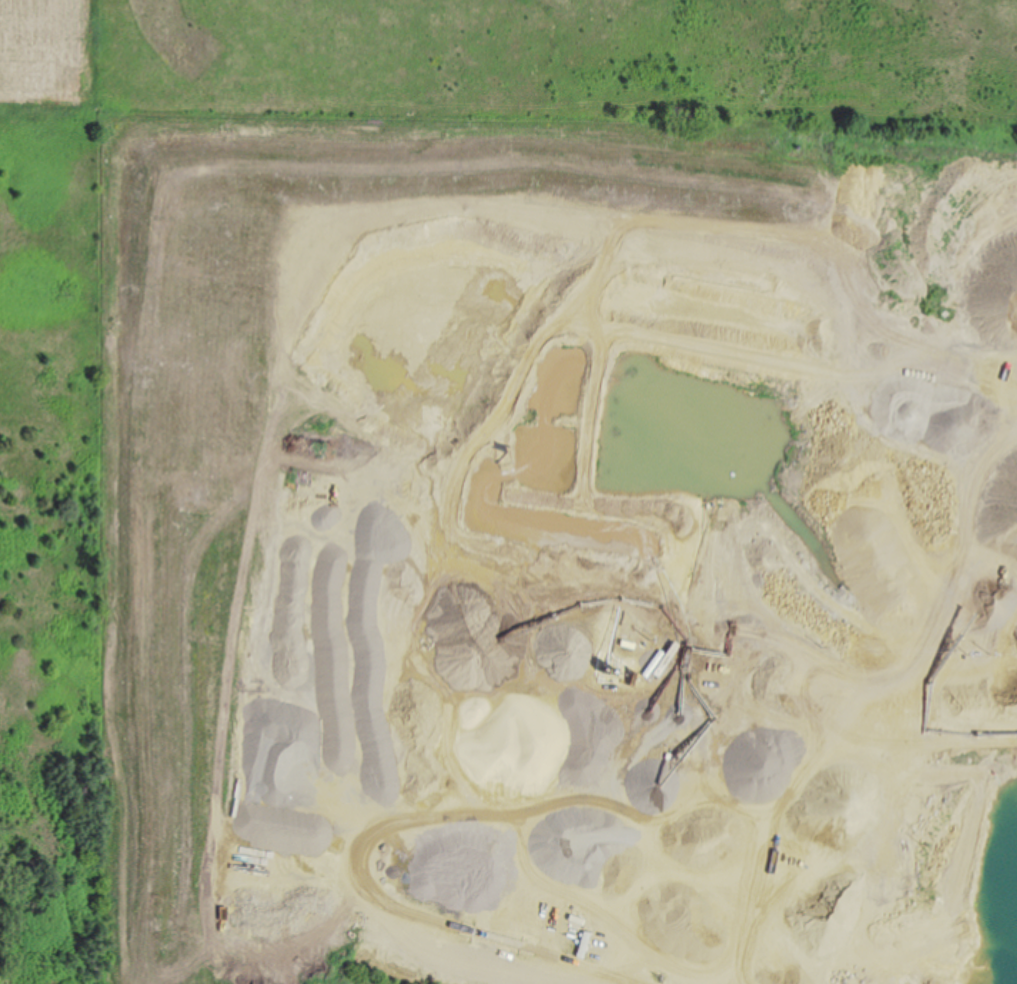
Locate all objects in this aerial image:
crop: (55, 56)
quarry: (562, 552)

